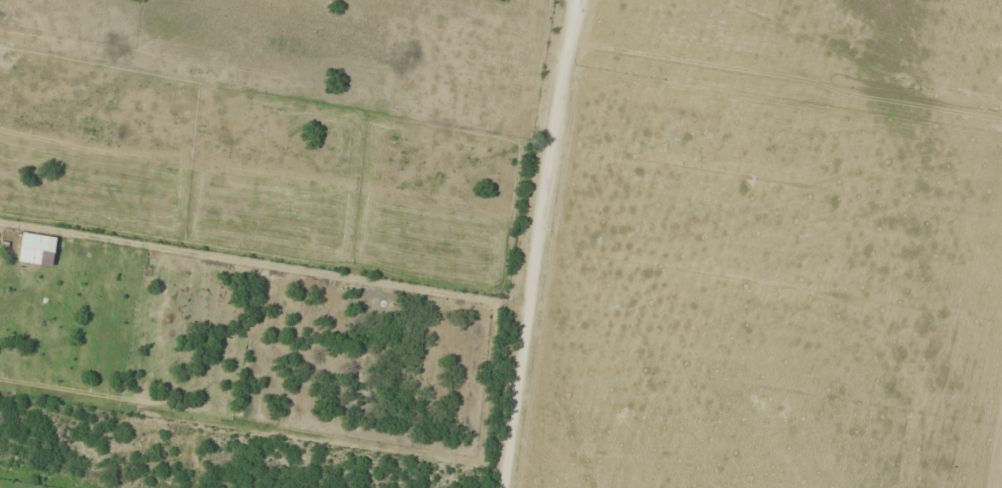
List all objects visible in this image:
road: (472, 243)

